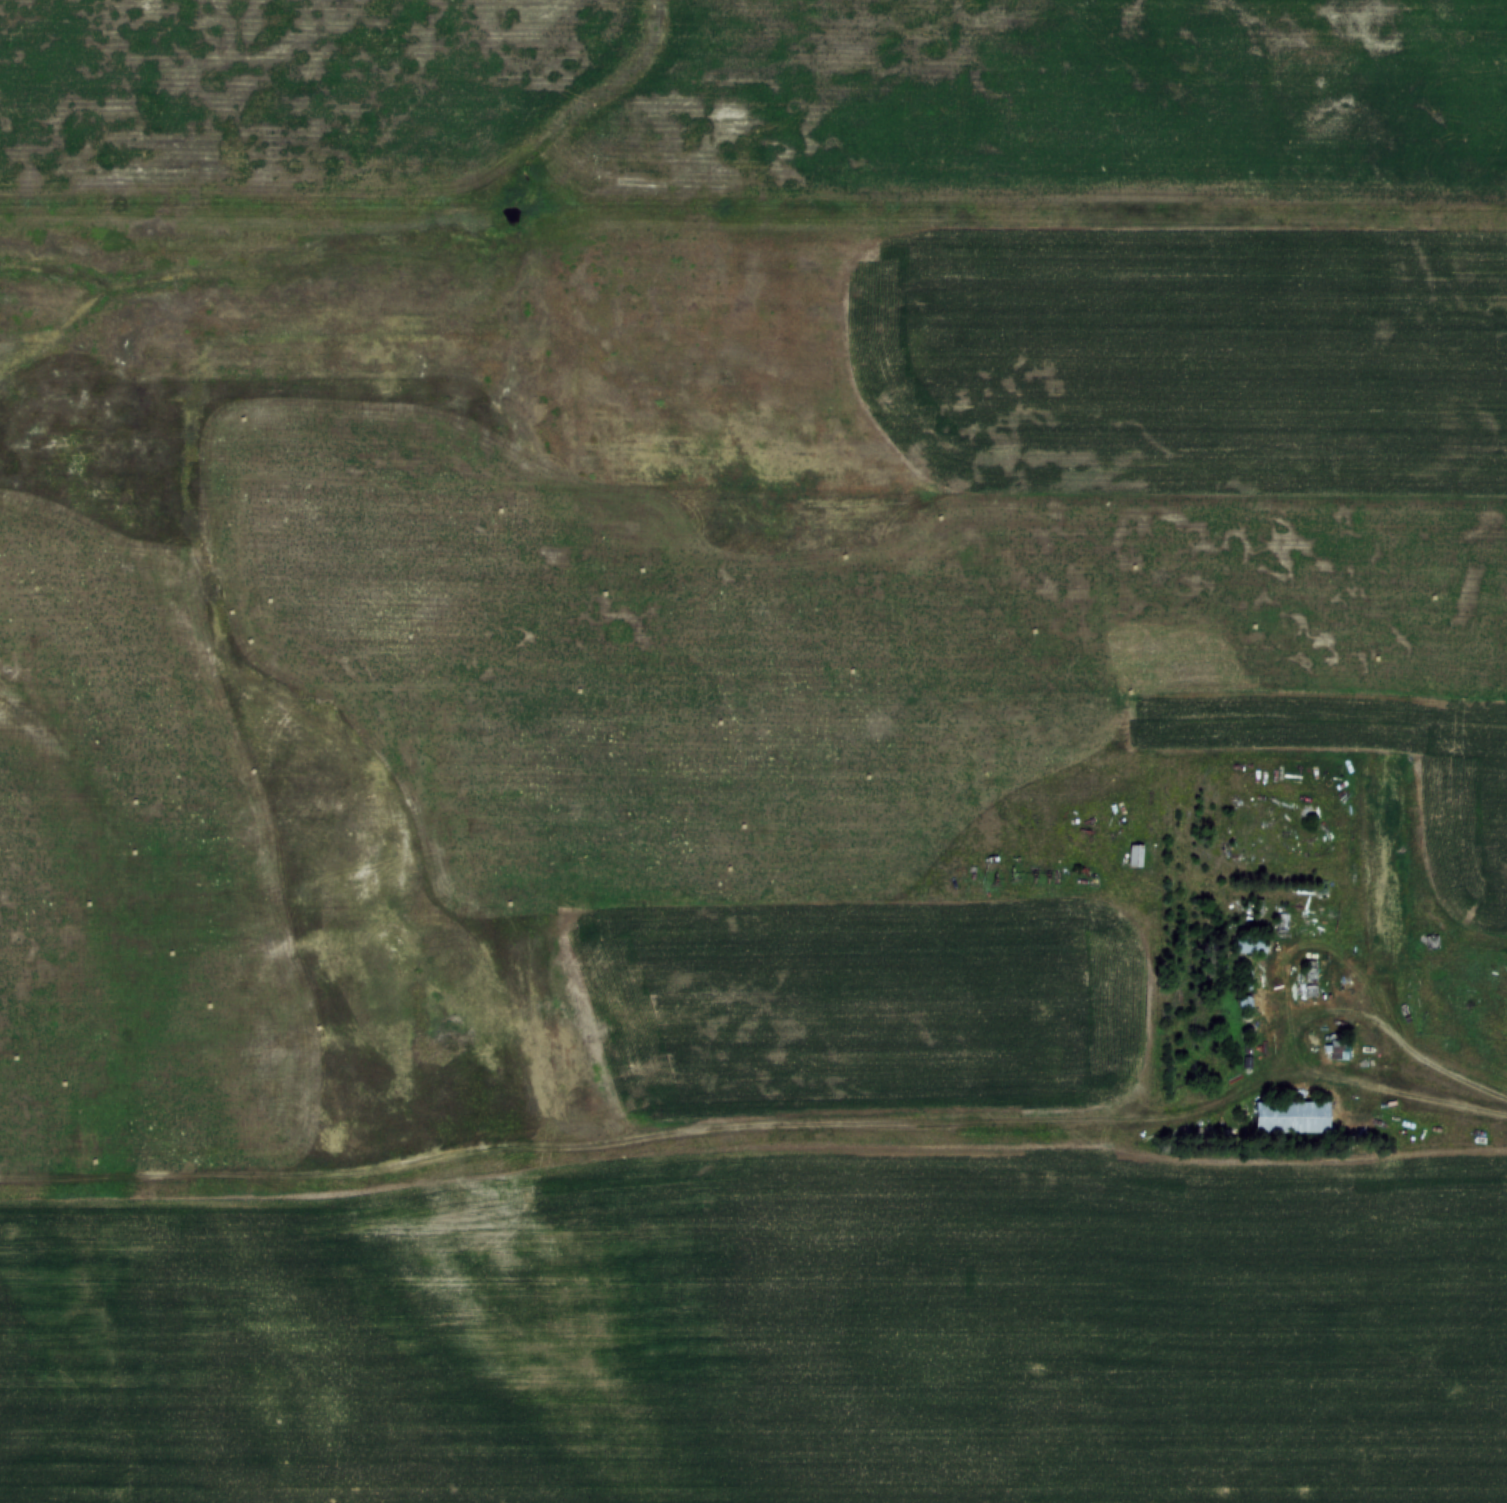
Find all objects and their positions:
building: (1137, 857)
building: (1295, 1120)

